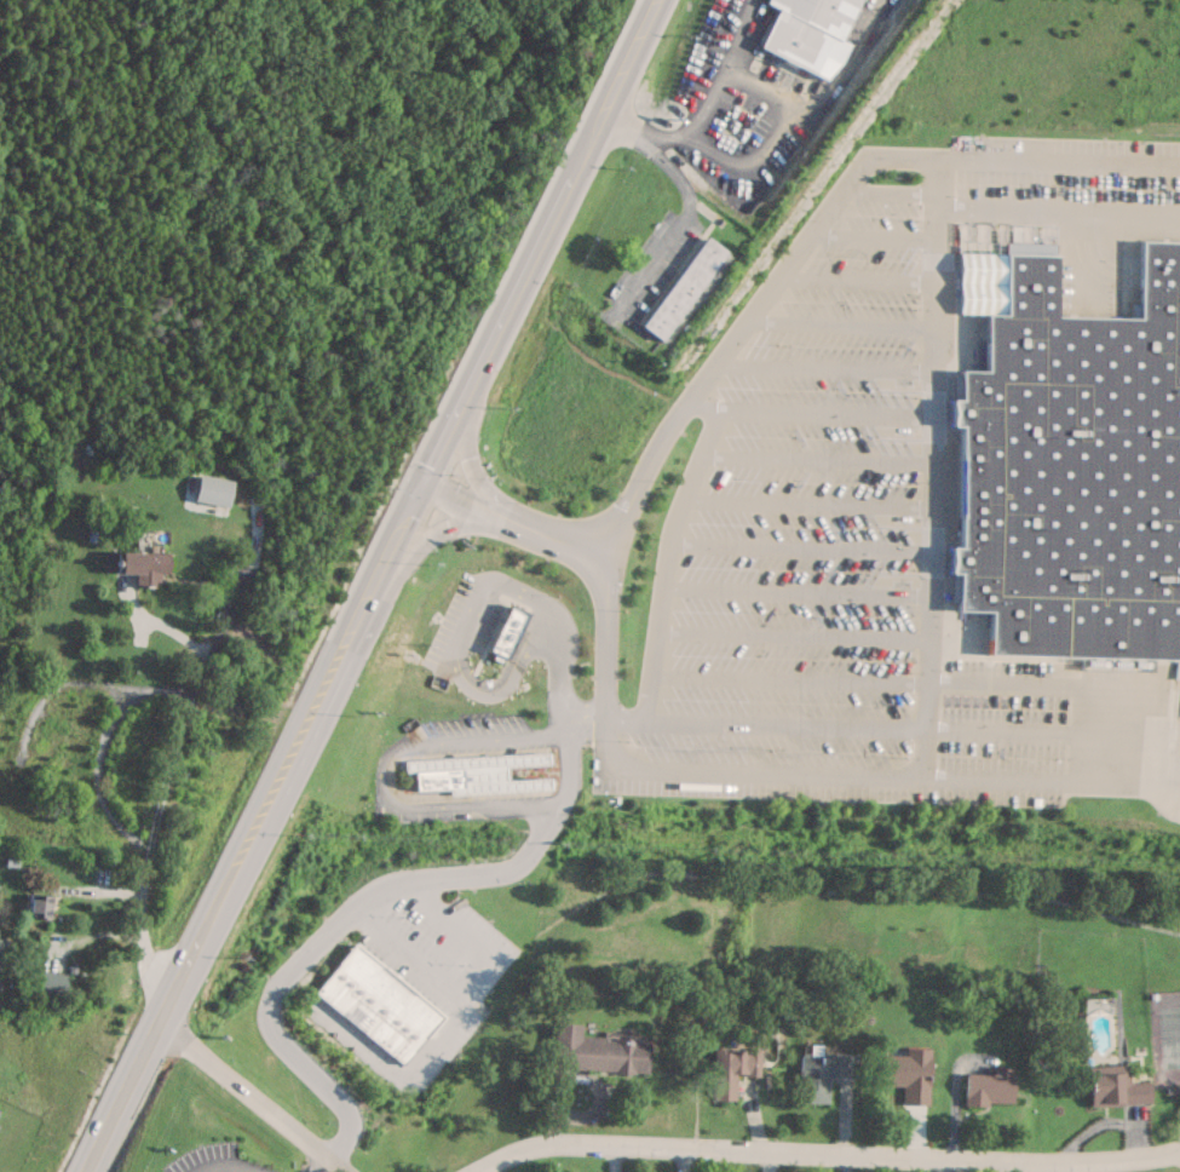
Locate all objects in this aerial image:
building: (812, 30)
road: (646, 134)
road: (754, 161)
road: (1059, 207)
road: (678, 225)
road: (876, 235)
road: (859, 281)
building: (681, 288)
road: (845, 323)
road: (828, 366)
road: (812, 412)
road: (818, 458)
road: (471, 461)
road: (932, 466)
building: (1070, 477)
traffic signals: (422, 483)
building: (209, 490)
road: (807, 502)
road: (514, 521)
road: (438, 530)
road: (617, 533)
road: (800, 548)
road: (666, 559)
building: (136, 565)
road: (372, 587)
road: (795, 592)
road: (478, 625)
building: (511, 633)
road: (792, 634)
road: (787, 679)
road: (1054, 683)
road: (764, 725)
road: (1008, 732)
road: (98, 748)
building: (471, 769)
road: (1161, 776)
road: (385, 777)
road: (154, 817)
road: (374, 894)
building: (36, 906)
building: (1, 952)
road: (410, 959)
parking lot: (442, 970)
road: (491, 973)
building: (47, 982)
building: (378, 1004)
building: (595, 1052)
building: (732, 1070)
building: (823, 1074)
building: (908, 1074)
building: (1113, 1086)
building: (989, 1087)
road: (252, 1095)
road: (829, 1150)
road: (323, 1165)
road: (230, 1171)

